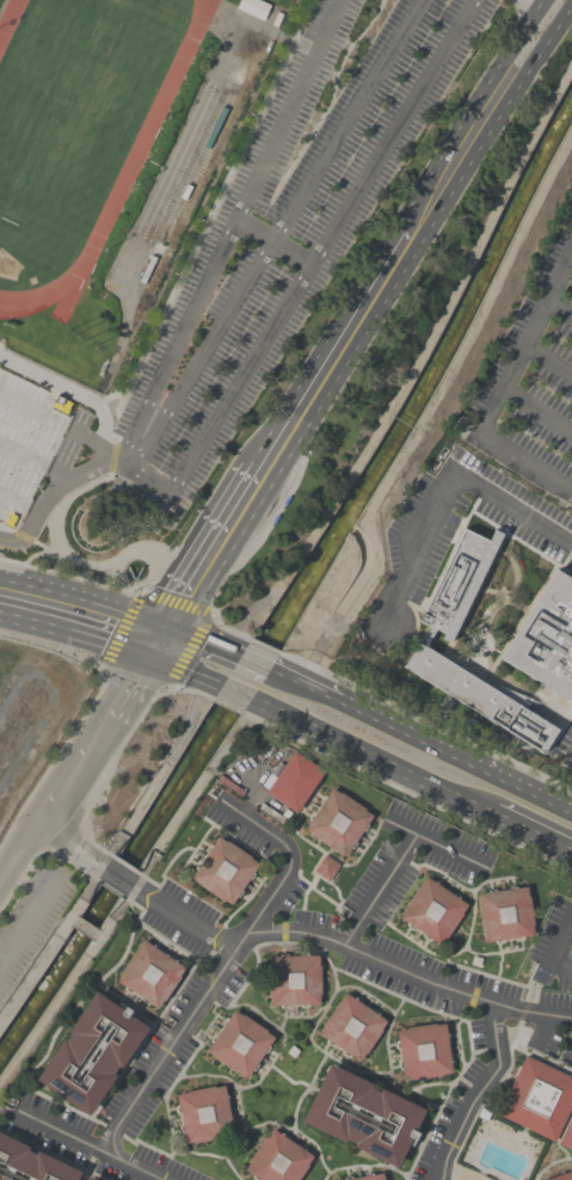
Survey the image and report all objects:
road: (1, 2)
road: (545, 4)
road: (554, 4)
building: (252, 7)
street lamp: (301, 8)
track: (8, 18)
street lamp: (276, 61)
road: (330, 94)
park: (73, 105)
street lamp: (252, 113)
road: (478, 119)
road: (390, 131)
stadium: (107, 158)
street lamp: (227, 167)
track: (116, 182)
road: (209, 209)
street lamp: (199, 220)
parking lot: (285, 225)
road: (230, 227)
road: (276, 229)
road: (271, 242)
road: (570, 258)
building: (147, 269)
park: (13, 270)
street lamp: (177, 274)
road: (559, 309)
street lamp: (149, 327)
road: (340, 343)
road: (548, 359)
road: (412, 367)
street lamp: (123, 379)
road: (60, 385)
road: (502, 389)
road: (223, 400)
road: (431, 400)
road: (537, 411)
road: (57, 424)
street lamp: (93, 428)
building: (25, 440)
parking garage: (25, 440)
road: (35, 461)
road: (55, 488)
road: (447, 493)
road: (17, 503)
road: (5, 529)
road: (21, 536)
road: (219, 537)
road: (521, 542)
road: (51, 548)
road: (447, 554)
road: (566, 559)
road: (25, 560)
building: (459, 582)
road: (122, 583)
road: (351, 585)
road: (474, 594)
road: (84, 600)
road: (173, 601)
road: (521, 620)
traffic signals: (167, 626)
road: (227, 628)
road: (75, 629)
building: (547, 638)
road: (158, 639)
road: (203, 639)
road: (479, 641)
road: (263, 645)
traffic signals: (149, 653)
road: (253, 662)
road: (185, 668)
road: (129, 684)
road: (302, 684)
road: (506, 684)
road: (190, 690)
road: (234, 692)
building: (481, 696)
road: (226, 706)
road: (424, 721)
road: (558, 732)
road: (97, 735)
street lamp: (66, 737)
parking lot: (566, 746)
road: (454, 756)
road: (53, 757)
road: (370, 757)
road: (109, 770)
road: (159, 774)
building: (294, 781)
crop: (67, 783)
road: (60, 787)
road: (406, 791)
road: (192, 792)
building: (272, 813)
street lamp: (14, 816)
building: (338, 822)
road: (380, 823)
road: (533, 834)
road: (68, 844)
road: (196, 844)
road: (436, 844)
road: (244, 846)
road: (17, 848)
road: (315, 848)
road: (37, 850)
road: (405, 860)
road: (125, 866)
building: (325, 868)
road: (162, 869)
building: (222, 869)
road: (312, 869)
road: (117, 877)
road: (459, 885)
road: (110, 889)
road: (379, 889)
road: (314, 890)
road: (306, 891)
road: (247, 897)
road: (336, 905)
road: (351, 908)
building: (432, 910)
building: (505, 914)
parking lot: (29, 916)
road: (375, 916)
road: (182, 918)
road: (27, 920)
road: (84, 926)
road: (216, 939)
road: (272, 942)
parking lot: (555, 942)
road: (51, 944)
road: (171, 945)
road: (322, 945)
road: (558, 951)
road: (492, 953)
road: (2, 954)
road: (450, 955)
road: (208, 959)
road: (499, 965)
road: (221, 969)
road: (408, 970)
building: (149, 973)
road: (487, 975)
building: (293, 979)
road: (66, 983)
road: (367, 983)
road: (530, 983)
road: (210, 985)
road: (365, 994)
road: (80, 998)
road: (123, 1002)
road: (524, 1012)
road: (300, 1016)
road: (207, 1025)
road: (541, 1026)
building: (350, 1027)
road: (281, 1032)
road: (295, 1037)
road: (142, 1039)
road: (457, 1043)
building: (239, 1044)
road: (320, 1050)
building: (422, 1051)
building: (88, 1052)
road: (541, 1057)
road: (387, 1071)
road: (457, 1071)
road: (287, 1078)
road: (303, 1089)
road: (480, 1094)
building: (537, 1098)
road: (424, 1099)
road: (484, 1100)
road: (59, 1102)
road: (166, 1111)
building: (204, 1113)
building: (361, 1116)
road: (240, 1119)
road: (294, 1130)
building: (567, 1135)
road: (560, 1136)
road: (91, 1145)
road: (54, 1154)
building: (278, 1159)
building: (30, 1163)
road: (549, 1163)
road: (361, 1164)
road: (232, 1168)
road: (468, 1172)
road: (84, 1174)
building: (562, 1176)
building: (91, 1178)
building: (367, 1178)
building: (85, 1179)

